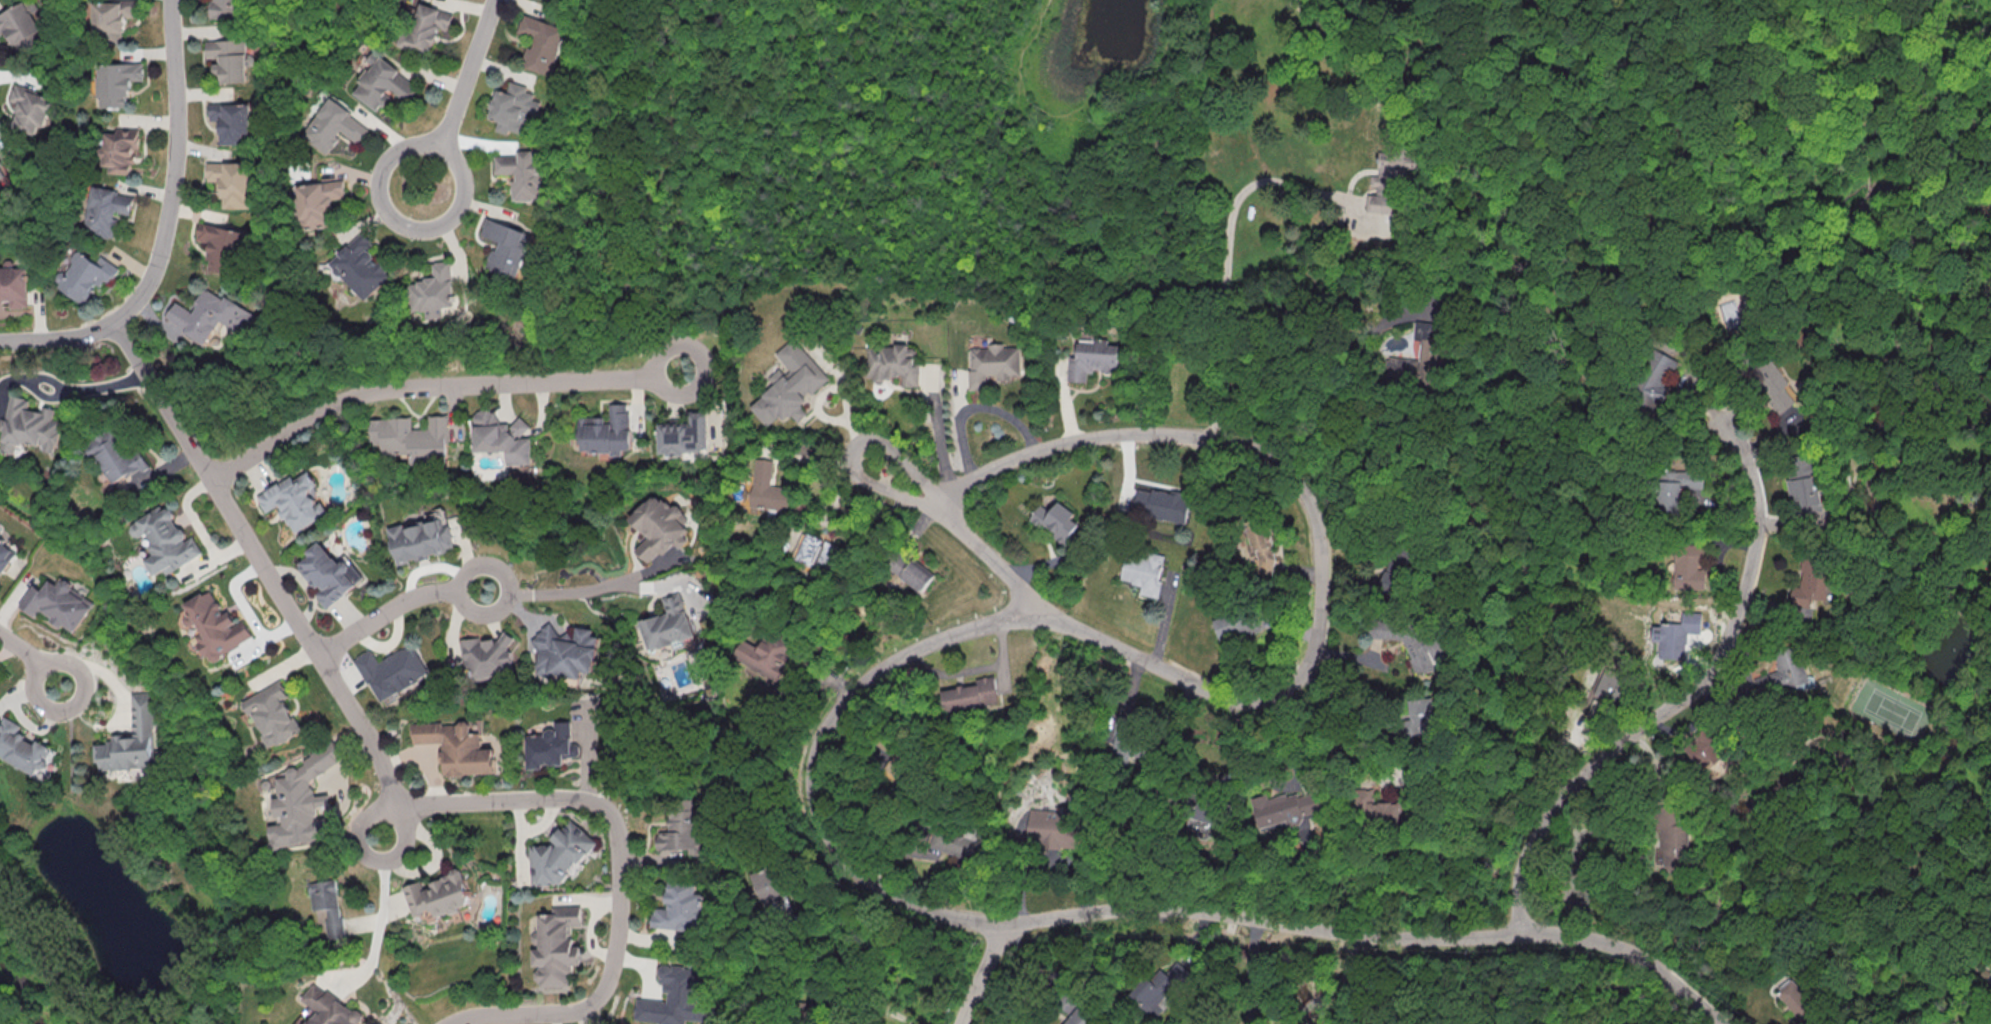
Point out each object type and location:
building: (225, 10)
road: (1703, 12)
building: (109, 18)
building: (22, 26)
building: (425, 28)
building: (541, 43)
building: (228, 59)
road: (472, 67)
building: (116, 82)
building: (383, 84)
building: (29, 107)
road: (1073, 107)
road: (891, 117)
building: (234, 120)
building: (333, 127)
park: (1836, 136)
building: (118, 150)
park: (901, 160)
building: (2, 169)
building: (1396, 170)
building: (522, 173)
building: (232, 182)
building: (319, 202)
building: (104, 210)
road: (405, 226)
road: (166, 229)
building: (220, 246)
road: (1228, 247)
building: (505, 248)
building: (360, 267)
building: (85, 275)
building: (14, 287)
building: (432, 291)
building: (1732, 309)
building: (209, 315)
building: (1418, 356)
building: (1093, 360)
building: (893, 363)
building: (994, 364)
road: (1316, 365)
building: (1769, 381)
building: (789, 384)
road: (432, 386)
building: (1657, 388)
road: (94, 390)
road: (971, 408)
building: (32, 425)
building: (608, 430)
building: (685, 434)
building: (502, 436)
building: (413, 438)
building: (116, 455)
building: (1677, 486)
building: (768, 488)
road: (897, 490)
building: (1803, 494)
building: (294, 501)
building: (1160, 505)
building: (1056, 520)
building: (658, 527)
building: (421, 538)
building: (165, 541)
building: (1260, 544)
building: (5, 556)
building: (1691, 568)
building: (910, 570)
building: (1143, 571)
building: (328, 573)
road: (273, 579)
building: (1813, 587)
road: (556, 594)
building: (58, 603)
road: (392, 606)
building: (668, 624)
building: (1233, 624)
building: (216, 626)
building: (1675, 635)
building: (563, 651)
building: (1417, 652)
building: (488, 654)
building: (766, 657)
road: (30, 661)
building: (392, 672)
building: (1781, 673)
building: (1610, 684)
building: (971, 694)
road: (1679, 699)
road: (1351, 701)
road: (846, 706)
building: (274, 714)
building: (1421, 716)
building: (1123, 739)
building: (456, 746)
building: (549, 746)
building: (23, 749)
road: (1360, 751)
building: (302, 800)
building: (1385, 802)
building: (1285, 807)
building: (1207, 816)
building: (1048, 828)
building: (682, 830)
building: (956, 842)
building: (1672, 845)
building: (559, 855)
road: (619, 878)
building: (767, 886)
building: (437, 896)
building: (328, 904)
building: (679, 908)
road: (381, 920)
road: (1255, 929)
building: (555, 945)
road: (1252, 951)
road: (1346, 970)
road: (983, 974)
road: (1248, 992)
building: (676, 998)
building: (1799, 1000)
road: (1309, 1005)
road: (878, 1006)
building: (331, 1008)
building: (1083, 1017)
road: (1294, 1018)
building: (1065, 1023)

